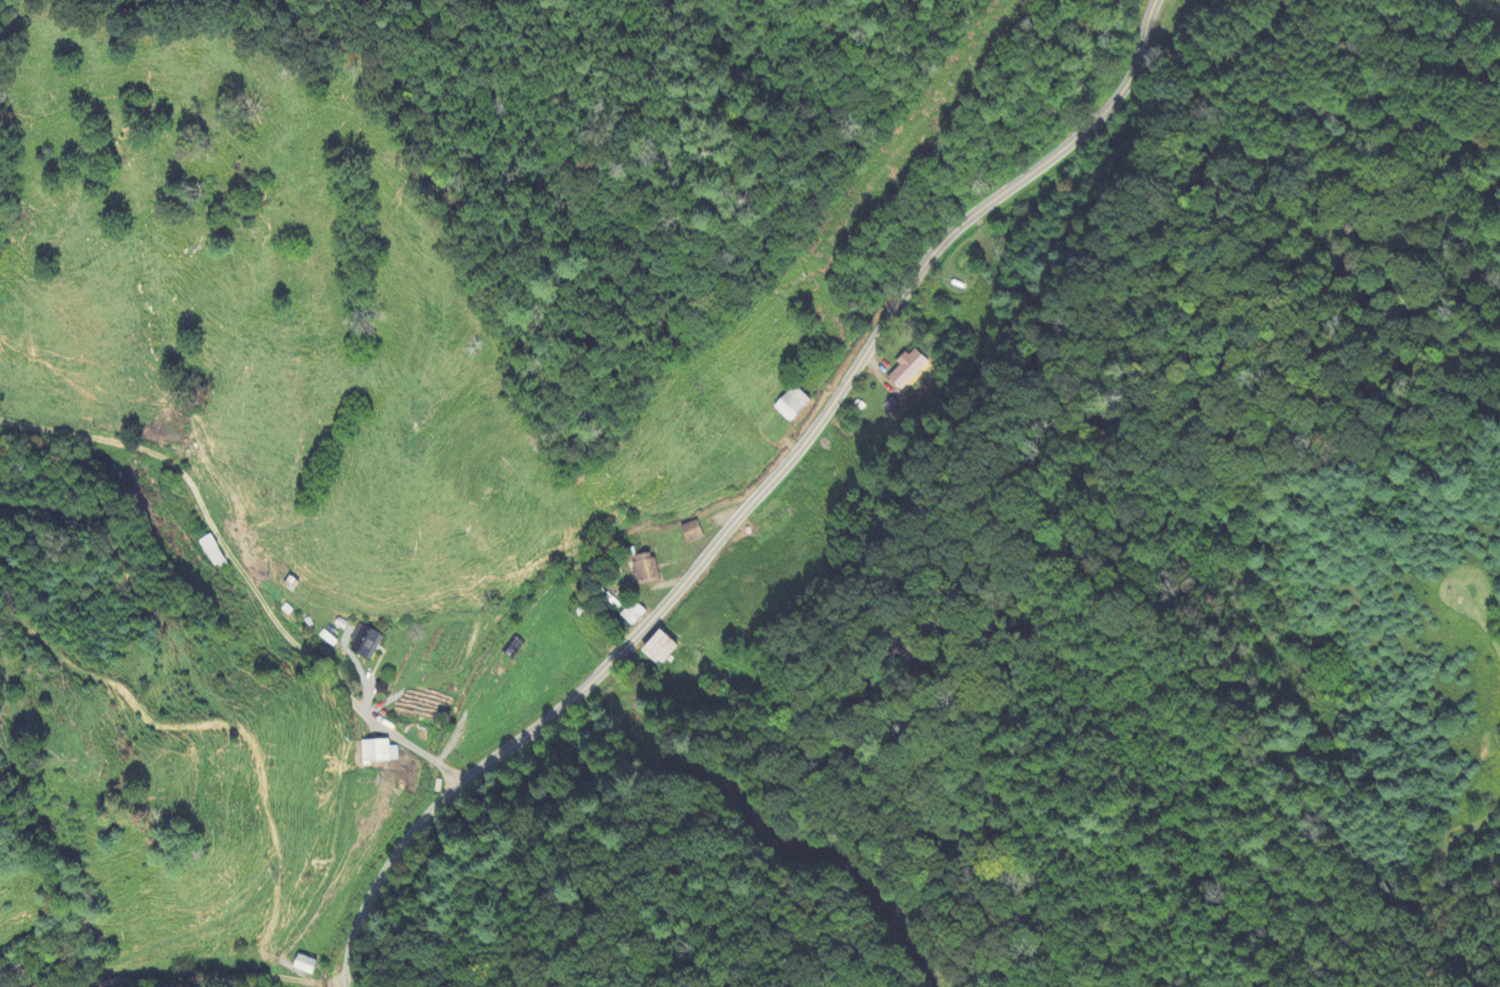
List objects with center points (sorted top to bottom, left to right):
building: (906, 370)
building: (792, 405)
road: (755, 498)
building: (691, 533)
building: (213, 555)
building: (641, 572)
building: (632, 614)
building: (660, 649)
building: (375, 753)
building: (305, 966)
road: (232, 974)

